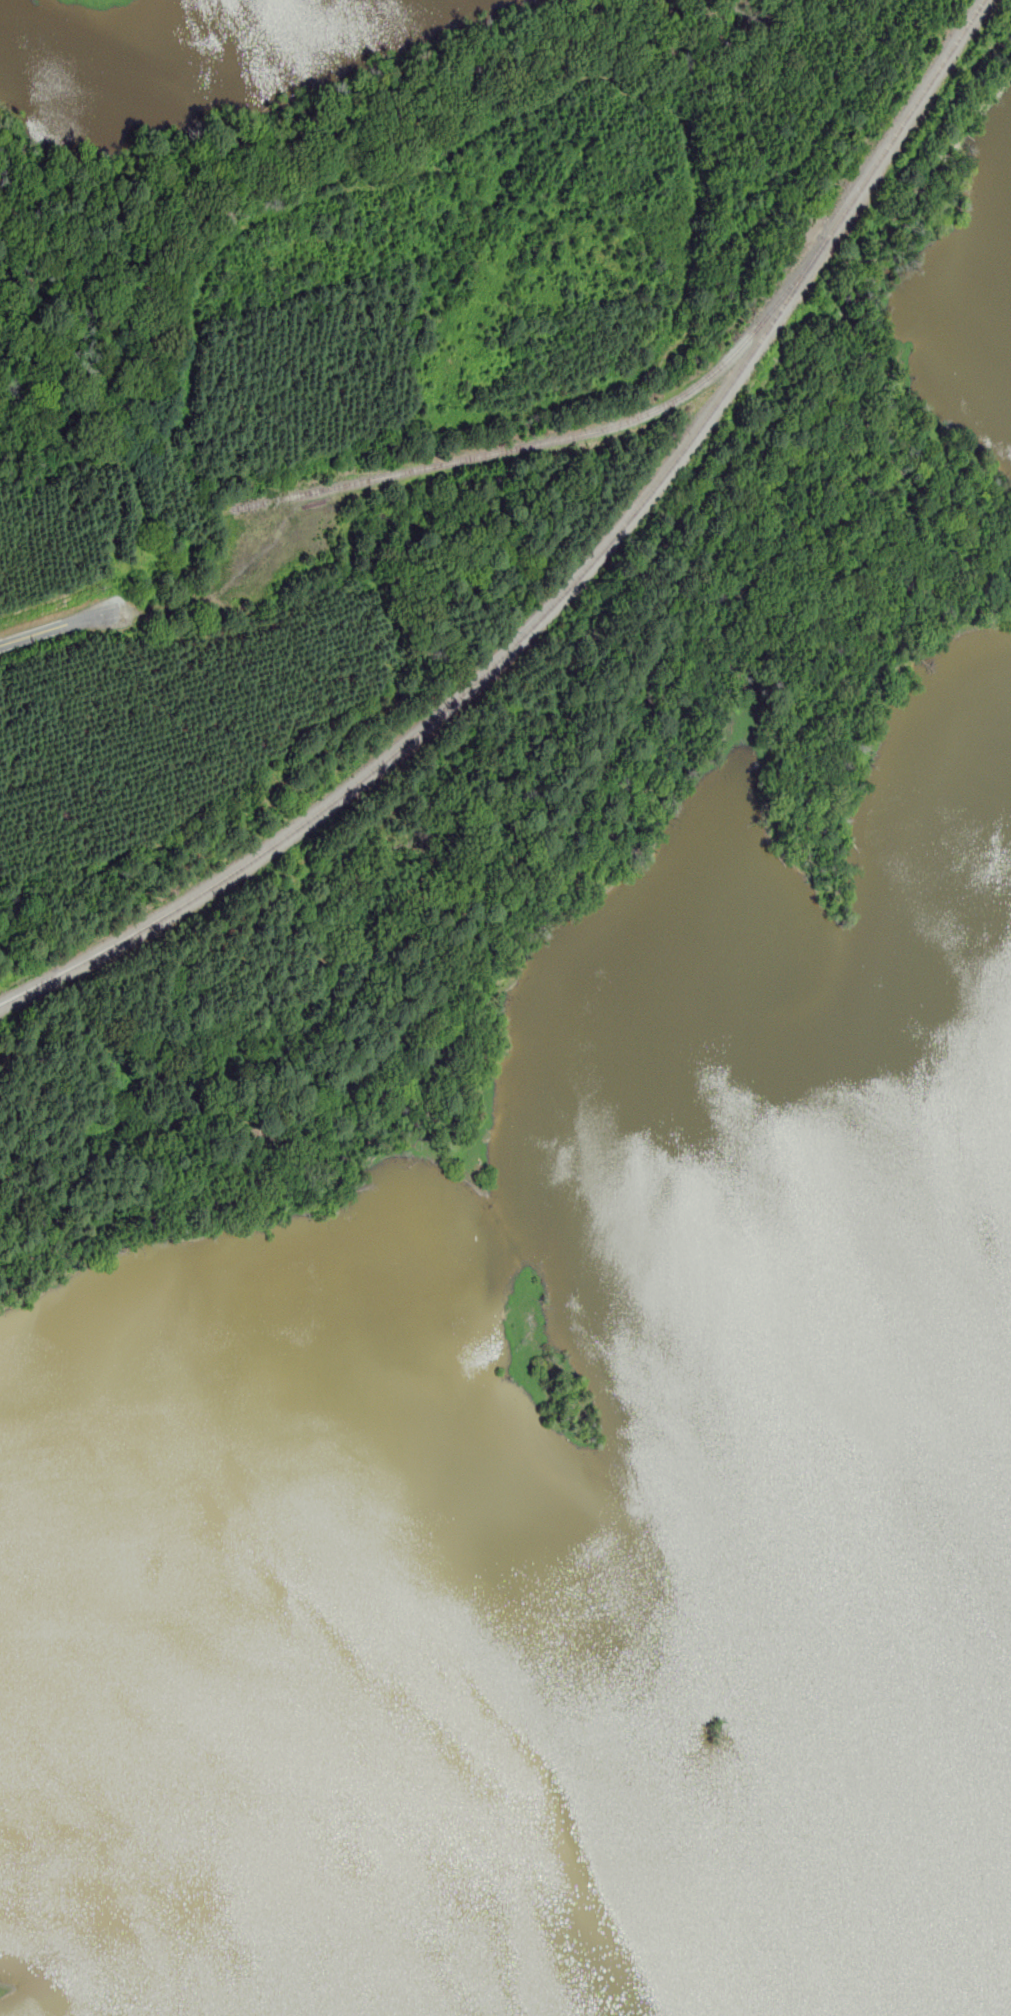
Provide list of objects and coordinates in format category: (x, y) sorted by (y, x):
road: (709, 270)
railway: (571, 435)
road: (135, 516)
railway: (571, 583)
road: (218, 590)
road: (59, 627)
river: (275, 1856)

